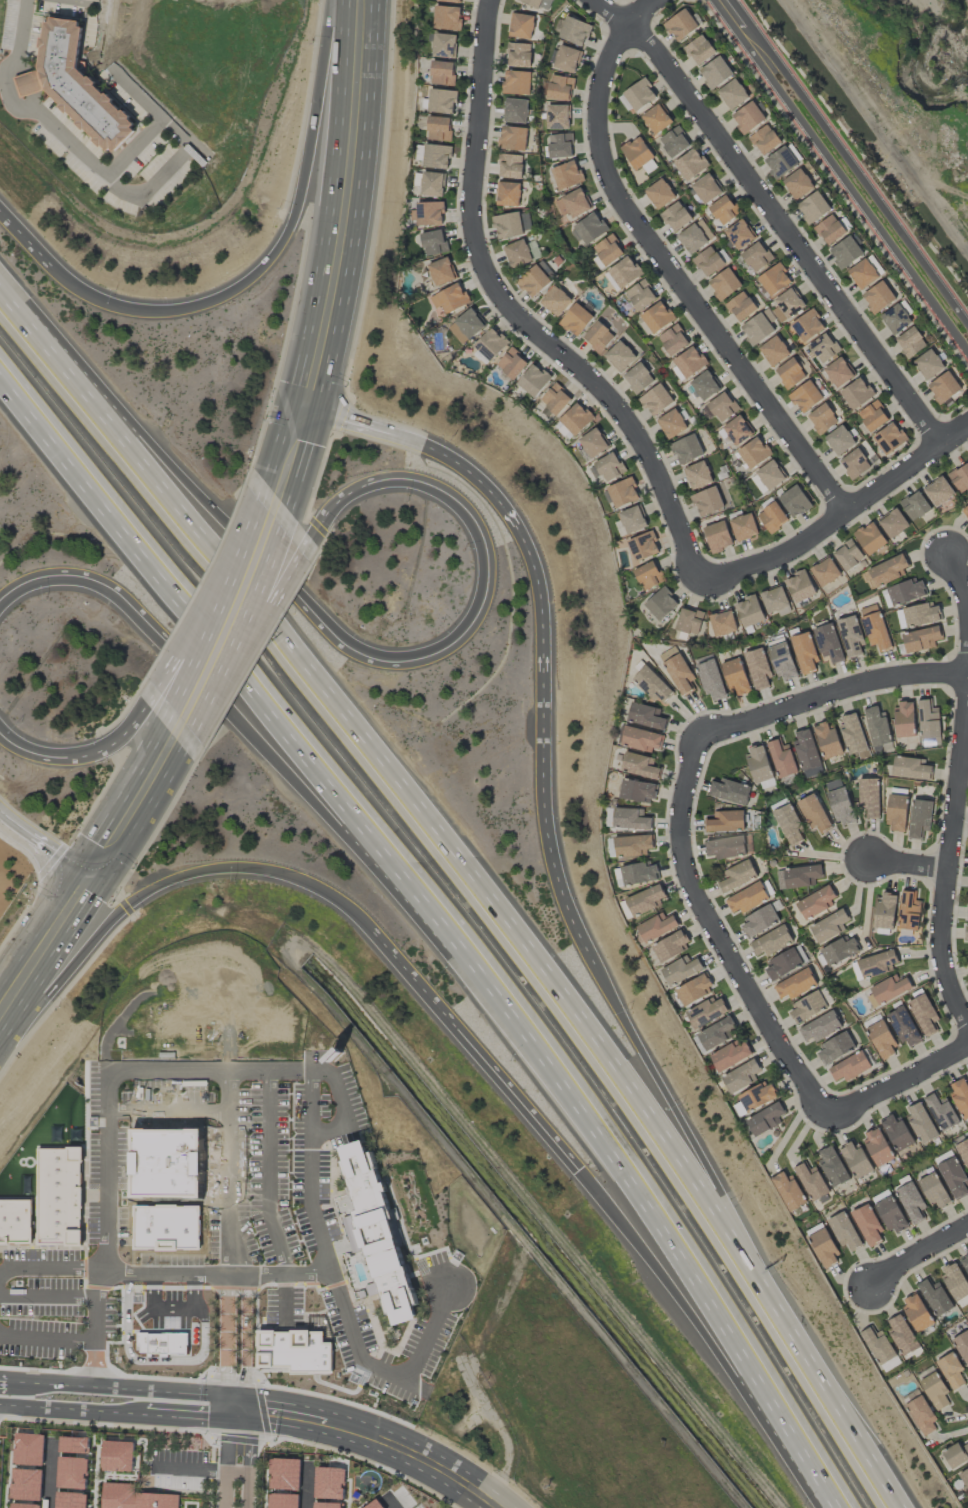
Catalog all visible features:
road: (99, 1)
building: (450, 1)
building: (536, 3)
building: (447, 17)
building: (680, 25)
building: (521, 26)
building: (574, 31)
road: (743, 31)
building: (443, 45)
building: (699, 50)
building: (519, 55)
building: (566, 58)
building: (715, 72)
building: (441, 73)
building: (516, 82)
building: (79, 87)
building: (558, 87)
building: (732, 94)
building: (639, 95)
building: (441, 101)
building: (515, 110)
building: (557, 117)
building: (747, 117)
building: (656, 119)
building: (438, 128)
building: (513, 138)
building: (764, 140)
building: (674, 142)
road: (136, 145)
building: (560, 146)
building: (637, 153)
building: (436, 156)
road: (853, 158)
building: (780, 162)
building: (690, 164)
building: (510, 166)
building: (566, 175)
road: (835, 182)
building: (431, 184)
building: (797, 184)
building: (706, 189)
road: (869, 191)
road: (128, 193)
building: (508, 194)
building: (659, 194)
building: (572, 204)
building: (813, 207)
road: (864, 209)
building: (723, 211)
building: (429, 213)
road: (772, 215)
building: (675, 216)
building: (511, 224)
building: (590, 228)
building: (829, 229)
building: (739, 235)
road: (25, 239)
building: (692, 239)
building: (433, 242)
building: (607, 250)
road: (277, 251)
building: (845, 252)
building: (521, 253)
building: (756, 257)
building: (708, 261)
road: (668, 265)
building: (441, 271)
road: (336, 272)
building: (624, 272)
building: (862, 274)
building: (774, 280)
building: (533, 281)
building: (724, 284)
building: (640, 295)
building: (878, 297)
building: (449, 298)
building: (555, 301)
building: (789, 303)
building: (741, 306)
road: (516, 316)
building: (657, 317)
building: (576, 319)
building: (895, 319)
building: (807, 325)
building: (465, 326)
building: (756, 329)
building: (598, 337)
building: (673, 340)
building: (910, 342)
building: (489, 346)
building: (824, 348)
building: (774, 351)
building: (619, 356)
building: (689, 362)
building: (511, 363)
building: (928, 364)
building: (838, 372)
building: (790, 373)
building: (637, 378)
building: (533, 380)
building: (704, 385)
building: (943, 387)
building: (856, 393)
building: (805, 396)
building: (555, 399)
building: (656, 400)
building: (720, 407)
building: (872, 416)
building: (576, 419)
building: (822, 419)
building: (671, 424)
building: (737, 430)
building: (889, 438)
building: (839, 440)
building: (593, 443)
road: (426, 448)
building: (686, 449)
building: (753, 452)
building: (854, 464)
building: (609, 467)
building: (697, 475)
building: (770, 475)
building: (960, 478)
building: (938, 491)
building: (622, 492)
building: (707, 501)
building: (794, 501)
building: (914, 505)
building: (965, 511)
road: (842, 512)
building: (772, 517)
building: (631, 519)
building: (893, 523)
building: (743, 527)
road: (129, 530)
building: (717, 536)
building: (870, 538)
building: (643, 546)
building: (848, 555)
building: (824, 571)
building: (884, 572)
building: (647, 575)
road: (959, 575)
building: (799, 586)
building: (903, 593)
road: (538, 599)
building: (774, 599)
building: (661, 604)
building: (749, 612)
road: (130, 613)
building: (917, 615)
building: (689, 621)
building: (722, 623)
building: (874, 627)
road: (463, 629)
road: (224, 634)
building: (850, 636)
building: (920, 640)
building: (828, 643)
building: (804, 652)
building: (782, 661)
building: (757, 667)
building: (677, 670)
building: (735, 676)
building: (710, 679)
building: (652, 684)
road: (832, 696)
building: (644, 716)
building: (904, 719)
building: (928, 722)
building: (877, 729)
building: (640, 739)
building: (827, 740)
road: (84, 750)
building: (807, 753)
building: (781, 758)
building: (758, 764)
building: (639, 766)
building: (910, 769)
building: (636, 790)
building: (730, 791)
building: (869, 798)
building: (841, 806)
road: (405, 810)
building: (814, 813)
building: (896, 813)
road: (352, 815)
road: (7, 817)
building: (630, 819)
building: (920, 820)
building: (725, 821)
building: (788, 824)
building: (631, 845)
building: (724, 847)
road: (53, 849)
road: (101, 858)
road: (950, 864)
road: (910, 866)
building: (638, 873)
building: (737, 876)
building: (797, 877)
building: (747, 898)
building: (644, 900)
building: (815, 903)
building: (908, 911)
building: (967, 911)
building: (884, 912)
building: (759, 920)
building: (828, 926)
building: (656, 927)
building: (966, 932)
road: (720, 937)
building: (771, 941)
building: (669, 946)
building: (838, 951)
building: (782, 964)
building: (876, 964)
building: (680, 970)
building: (795, 985)
building: (889, 988)
building: (694, 989)
road: (10, 999)
building: (807, 1007)
building: (706, 1012)
building: (923, 1012)
road: (624, 1019)
building: (903, 1026)
building: (819, 1028)
building: (712, 1035)
building: (835, 1048)
road: (479, 1054)
building: (730, 1055)
building: (850, 1067)
building: (741, 1076)
road: (900, 1082)
road: (228, 1090)
building: (960, 1095)
building: (752, 1099)
road: (310, 1102)
road: (340, 1106)
road: (227, 1112)
building: (941, 1112)
building: (764, 1119)
road: (108, 1122)
building: (920, 1122)
building: (897, 1133)
building: (877, 1147)
building: (963, 1151)
building: (856, 1159)
building: (832, 1166)
road: (267, 1172)
building: (953, 1177)
building: (811, 1181)
building: (933, 1190)
building: (788, 1191)
building: (60, 1196)
building: (910, 1201)
building: (890, 1213)
road: (646, 1217)
building: (15, 1221)
building: (867, 1224)
building: (844, 1231)
building: (376, 1232)
building: (822, 1244)
road: (920, 1259)
building: (965, 1262)
road: (285, 1274)
building: (956, 1283)
road: (50, 1296)
building: (935, 1297)
road: (97, 1304)
road: (172, 1310)
road: (245, 1312)
building: (916, 1312)
road: (225, 1313)
building: (902, 1334)
road: (69, 1339)
building: (962, 1346)
building: (880, 1349)
building: (951, 1371)
road: (391, 1372)
road: (0, 1381)
road: (47, 1384)
building: (935, 1390)
road: (179, 1393)
road: (60, 1408)
road: (193, 1412)
building: (921, 1416)
road: (845, 1425)
road: (227, 1434)
road: (387, 1443)
building: (73, 1445)
building: (28, 1449)
road: (248, 1452)
building: (956, 1454)
building: (117, 1456)
road: (190, 1470)
building: (72, 1472)
road: (49, 1474)
building: (284, 1474)
building: (964, 1477)
building: (327, 1479)
building: (26, 1484)
road: (307, 1485)
road: (224, 1490)
building: (134, 1497)
building: (70, 1500)
building: (283, 1501)
road: (390, 1501)
building: (375, 1504)
road: (835, 1504)
building: (24, 1505)
building: (328, 1505)

